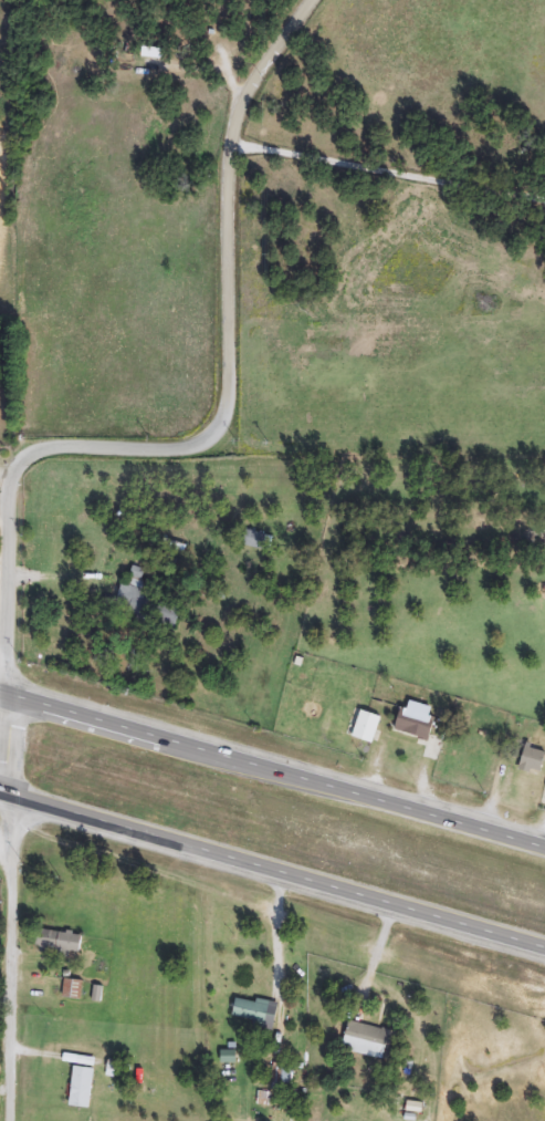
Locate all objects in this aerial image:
road: (386, 179)
road: (226, 419)
building: (253, 540)
building: (148, 608)
building: (417, 722)
building: (368, 727)
road: (9, 741)
road: (272, 761)
building: (535, 761)
road: (6, 849)
road: (272, 873)
road: (276, 933)
building: (59, 942)
road: (10, 959)
building: (73, 989)
building: (251, 1011)
building: (368, 1041)
building: (283, 1077)
building: (83, 1088)

